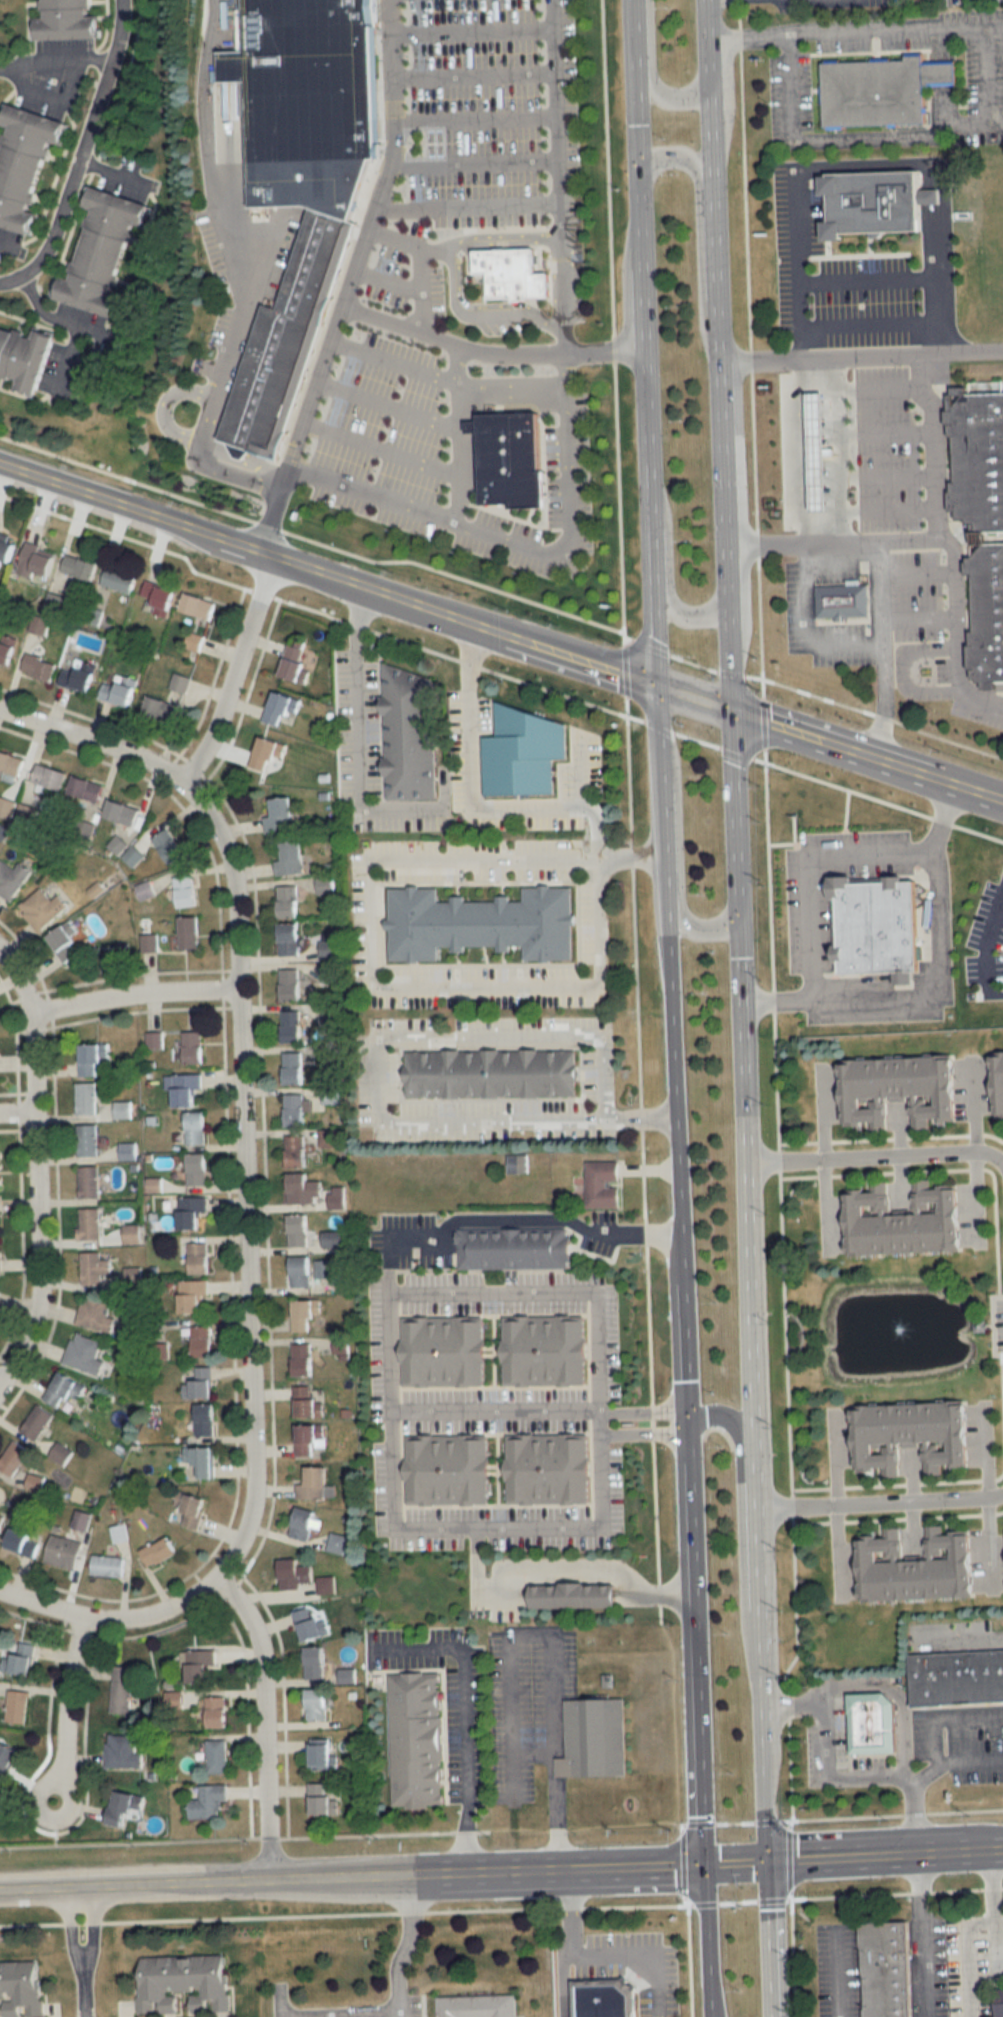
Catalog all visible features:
road: (705, 19)
building: (68, 20)
road: (970, 24)
road: (863, 27)
road: (476, 29)
road: (632, 32)
road: (748, 35)
road: (52, 59)
road: (477, 71)
road: (987, 71)
road: (791, 84)
building: (874, 88)
road: (665, 94)
building: (306, 99)
road: (708, 101)
road: (479, 116)
road: (975, 119)
traffic signals: (636, 123)
road: (873, 135)
road: (636, 140)
road: (82, 141)
road: (677, 154)
traffic signals: (656, 155)
road: (478, 161)
building: (25, 162)
road: (606, 167)
road: (711, 170)
road: (560, 174)
road: (934, 185)
building: (867, 198)
road: (471, 205)
road: (7, 246)
building: (104, 250)
road: (427, 259)
road: (797, 259)
road: (714, 267)
building: (508, 270)
road: (458, 274)
road: (867, 274)
road: (238, 275)
road: (394, 277)
road: (12, 280)
road: (641, 280)
road: (355, 282)
road: (72, 323)
road: (868, 324)
building: (286, 337)
road: (612, 347)
road: (748, 348)
road: (491, 349)
road: (860, 352)
building: (25, 356)
road: (397, 358)
road: (513, 376)
road: (880, 386)
road: (390, 401)
road: (645, 405)
road: (886, 432)
road: (931, 442)
road: (383, 444)
road: (842, 446)
road: (790, 448)
building: (814, 451)
building: (975, 456)
building: (509, 458)
road: (648, 471)
road: (887, 474)
road: (375, 489)
road: (618, 494)
road: (888, 506)
road: (722, 513)
road: (650, 530)
road: (316, 542)
road: (520, 544)
building: (7, 546)
building: (37, 560)
building: (80, 566)
road: (952, 568)
road: (918, 571)
building: (119, 579)
road: (326, 579)
building: (160, 597)
building: (839, 597)
building: (199, 606)
road: (310, 609)
road: (683, 612)
building: (984, 612)
road: (919, 616)
road: (804, 630)
road: (653, 632)
traffic signals: (654, 637)
road: (627, 639)
road: (649, 645)
road: (884, 646)
building: (7, 653)
building: (296, 661)
road: (692, 661)
building: (39, 667)
road: (627, 668)
traffic signals: (619, 670)
road: (729, 670)
road: (751, 673)
road: (233, 674)
building: (80, 676)
building: (181, 683)
road: (730, 686)
building: (120, 691)
road: (693, 695)
road: (979, 695)
road: (626, 705)
building: (281, 708)
building: (161, 709)
road: (883, 715)
road: (636, 717)
road: (657, 717)
road: (765, 721)
traffic signals: (772, 721)
road: (658, 726)
building: (406, 732)
road: (696, 740)
road: (355, 741)
road: (844, 744)
road: (91, 747)
building: (519, 749)
road: (734, 752)
building: (268, 755)
road: (756, 759)
traffic signals: (733, 762)
building: (12, 765)
building: (50, 777)
building: (86, 789)
road: (980, 790)
road: (465, 800)
road: (883, 801)
road: (733, 812)
building: (122, 813)
building: (280, 815)
building: (169, 846)
building: (292, 859)
road: (676, 859)
road: (806, 865)
building: (12, 879)
building: (186, 891)
building: (288, 901)
building: (43, 909)
building: (477, 919)
traffic signals: (733, 919)
building: (874, 924)
building: (190, 933)
road: (988, 938)
building: (290, 939)
building: (149, 942)
building: (66, 943)
road: (370, 958)
building: (291, 985)
road: (937, 987)
road: (132, 995)
road: (668, 1000)
building: (292, 1027)
building: (154, 1040)
building: (193, 1048)
building: (92, 1058)
building: (293, 1069)
building: (488, 1070)
road: (378, 1073)
building: (996, 1082)
building: (894, 1089)
building: (186, 1090)
building: (331, 1095)
building: (86, 1099)
building: (123, 1110)
building: (294, 1110)
road: (972, 1111)
road: (16, 1115)
building: (195, 1128)
building: (87, 1140)
building: (128, 1151)
building: (295, 1151)
road: (872, 1157)
road: (999, 1158)
building: (516, 1163)
road: (35, 1169)
building: (197, 1170)
road: (242, 1179)
building: (599, 1179)
building: (88, 1182)
building: (303, 1189)
road: (975, 1199)
building: (337, 1201)
building: (191, 1212)
road: (538, 1217)
building: (897, 1221)
building: (90, 1224)
building: (299, 1232)
building: (132, 1234)
building: (334, 1239)
building: (511, 1245)
building: (0, 1257)
building: (199, 1259)
building: (94, 1268)
building: (323, 1269)
building: (300, 1272)
road: (492, 1290)
building: (193, 1296)
building: (96, 1314)
building: (305, 1316)
road: (744, 1321)
road: (681, 1338)
building: (202, 1341)
building: (540, 1346)
building: (441, 1349)
building: (84, 1354)
building: (303, 1360)
road: (786, 1382)
building: (200, 1384)
building: (63, 1390)
building: (308, 1403)
road: (643, 1408)
road: (495, 1410)
building: (204, 1419)
building: (37, 1423)
road: (644, 1429)
building: (904, 1436)
building: (311, 1438)
building: (61, 1454)
building: (14, 1459)
building: (201, 1461)
building: (544, 1463)
building: (446, 1466)
building: (35, 1482)
building: (314, 1485)
road: (877, 1503)
building: (193, 1512)
building: (1, 1522)
building: (302, 1524)
road: (739, 1526)
road: (496, 1530)
building: (337, 1543)
building: (23, 1544)
road: (840, 1550)
building: (63, 1553)
building: (159, 1553)
building: (107, 1566)
building: (909, 1567)
road: (558, 1573)
building: (294, 1575)
building: (568, 1593)
road: (106, 1619)
building: (312, 1623)
road: (693, 1646)
road: (549, 1656)
building: (21, 1659)
building: (315, 1663)
building: (201, 1666)
building: (954, 1675)
building: (346, 1676)
building: (121, 1689)
road: (899, 1699)
building: (317, 1705)
building: (17, 1706)
road: (65, 1710)
building: (218, 1712)
road: (464, 1720)
road: (261, 1721)
building: (870, 1721)
road: (934, 1722)
building: (593, 1736)
building: (416, 1739)
building: (122, 1752)
building: (323, 1756)
building: (217, 1757)
building: (7, 1759)
road: (827, 1774)
road: (759, 1793)
building: (325, 1799)
building: (209, 1802)
building: (124, 1808)
building: (1, 1823)
road: (882, 1857)
traffic signals: (761, 1864)
road: (730, 1865)
traffic signals: (700, 1866)
road: (349, 1878)
road: (571, 1912)
road: (702, 1931)
road: (982, 1934)
road: (920, 1936)
road: (764, 1939)
road: (405, 1947)
road: (81, 1951)
road: (613, 1953)
building: (885, 1968)
building: (183, 1982)
road: (82, 1984)
building: (21, 1988)
building: (603, 1997)
building: (1000, 2001)
road: (278, 2004)
building: (477, 2006)
road: (706, 2006)
road: (710, 2006)
road: (338, 2010)
road: (767, 2016)

